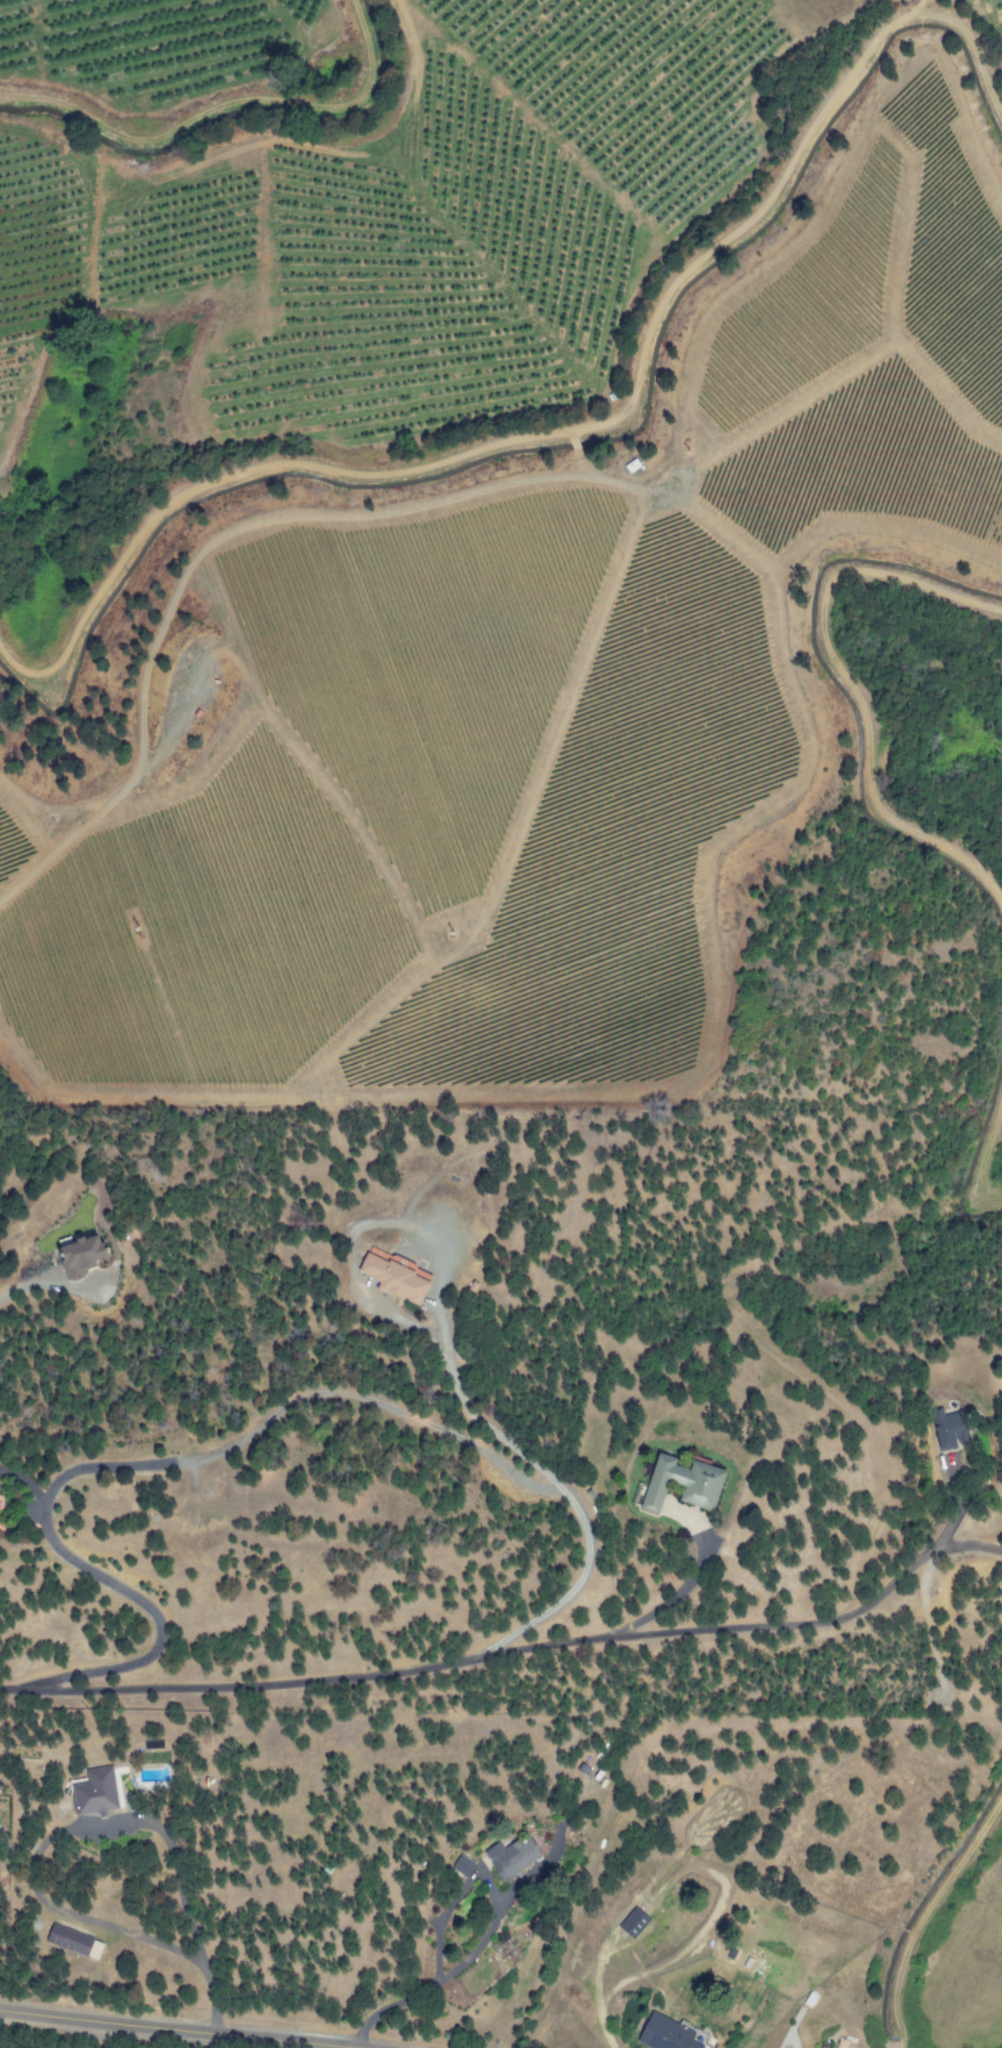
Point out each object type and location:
road: (219, 111)
road: (589, 427)
road: (224, 535)
road: (847, 685)
road: (982, 1164)
building: (81, 1255)
building: (394, 1278)
building: (947, 1431)
building: (682, 1484)
building: (96, 1791)
road: (86, 1827)
building: (512, 1856)
building: (463, 1865)
road: (923, 1914)
building: (633, 1922)
building: (70, 1939)
road: (170, 2028)
building: (665, 2034)

